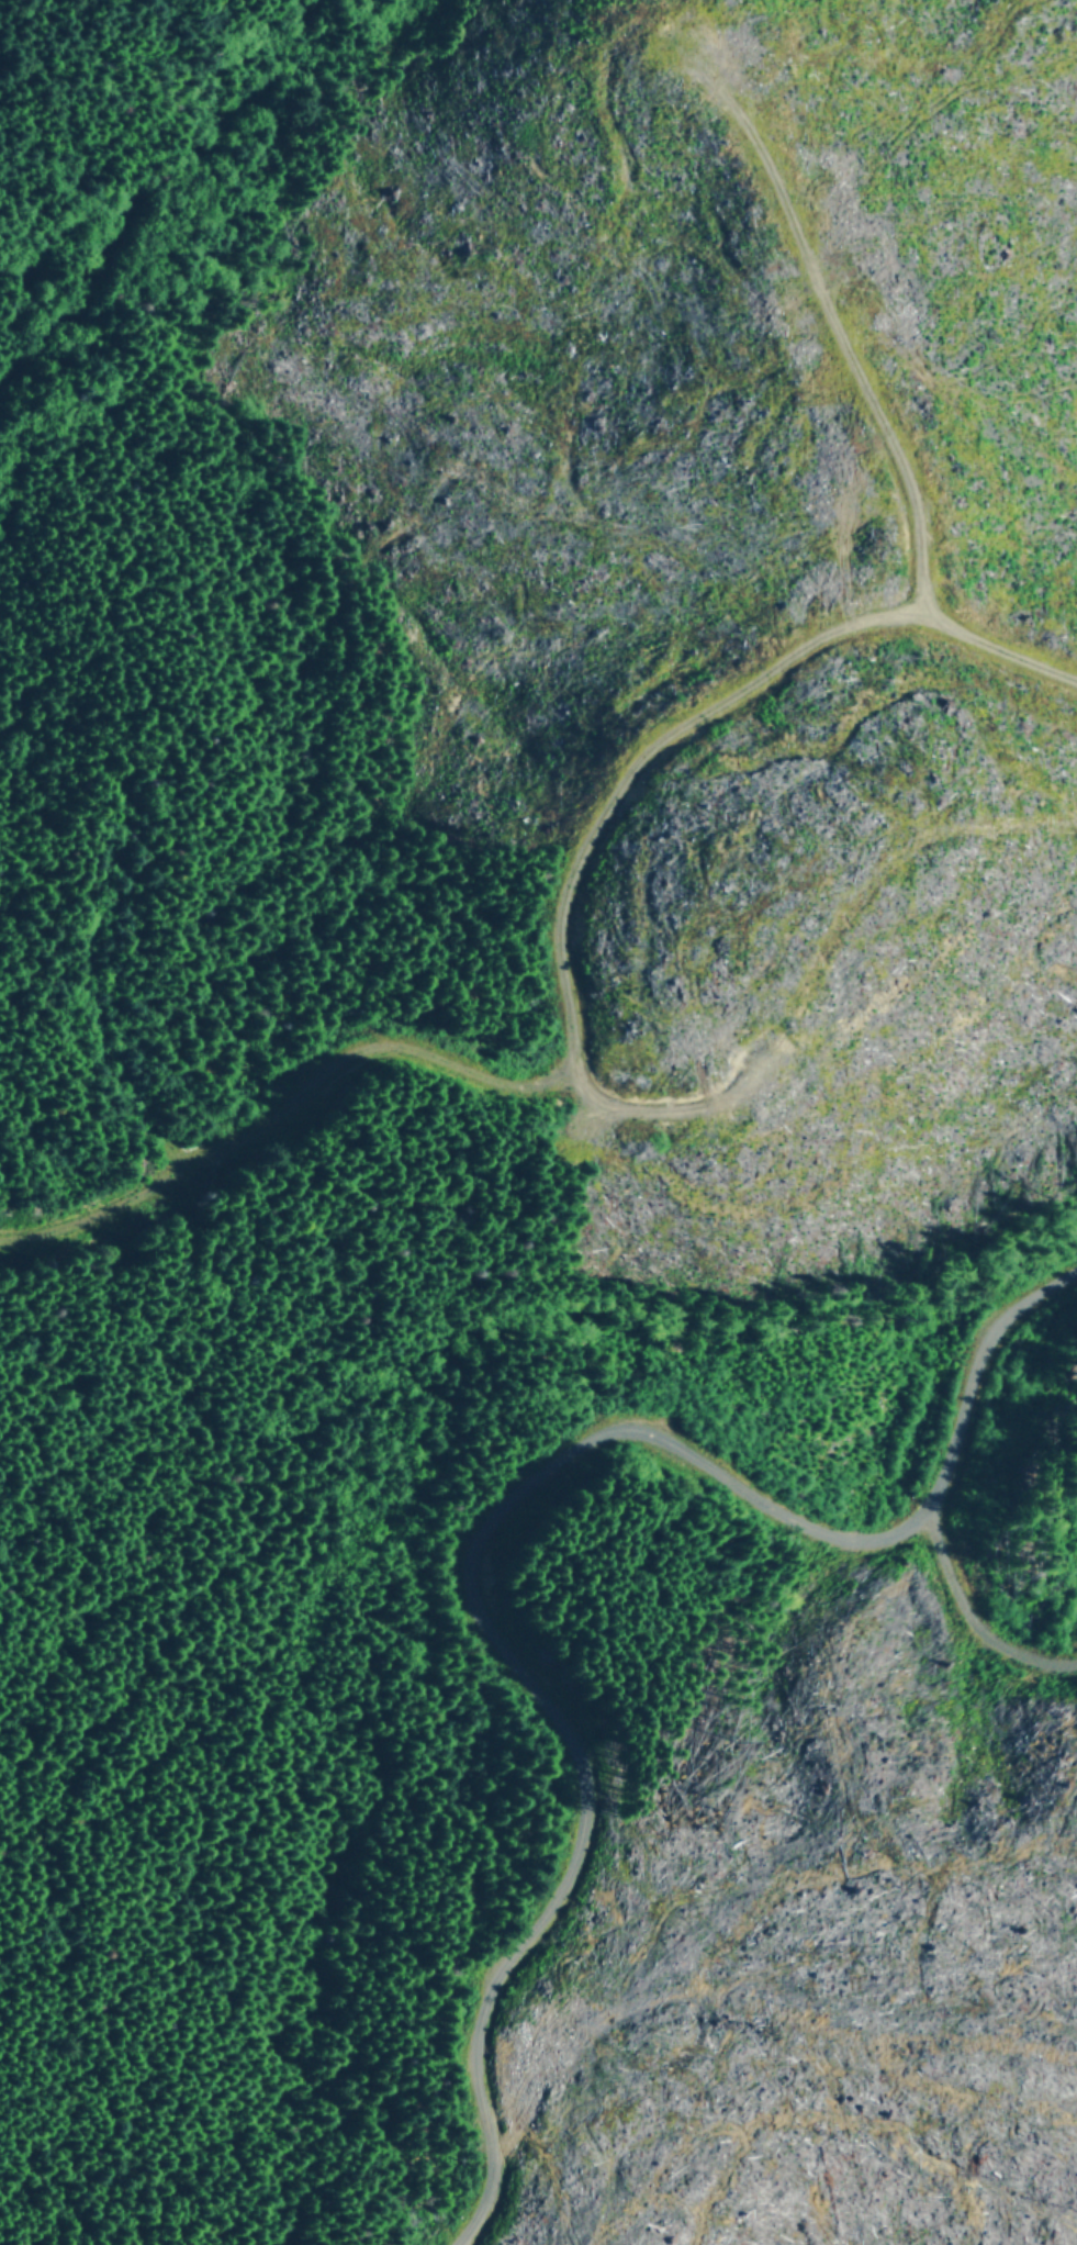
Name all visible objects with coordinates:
road: (202, 57)
road: (195, 160)
road: (872, 382)
road: (569, 1063)
road: (664, 1108)
road: (497, 1515)
road: (972, 1612)

